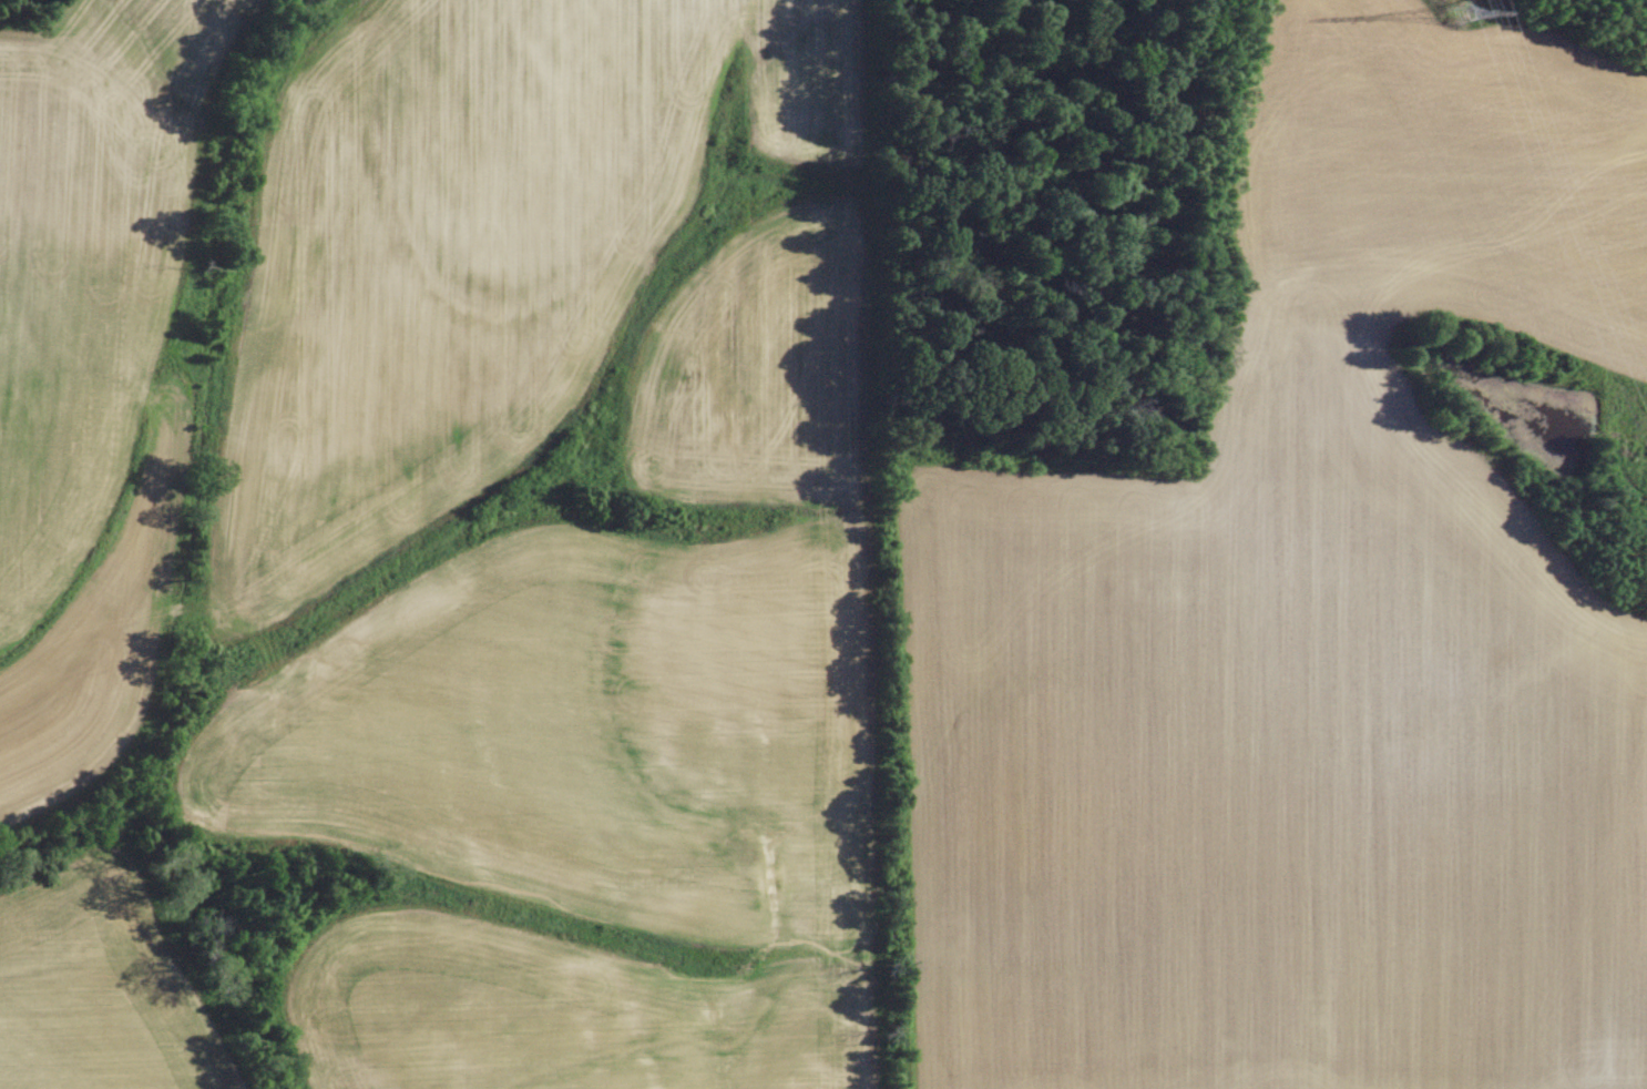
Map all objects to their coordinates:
power tower: (1454, 16)

